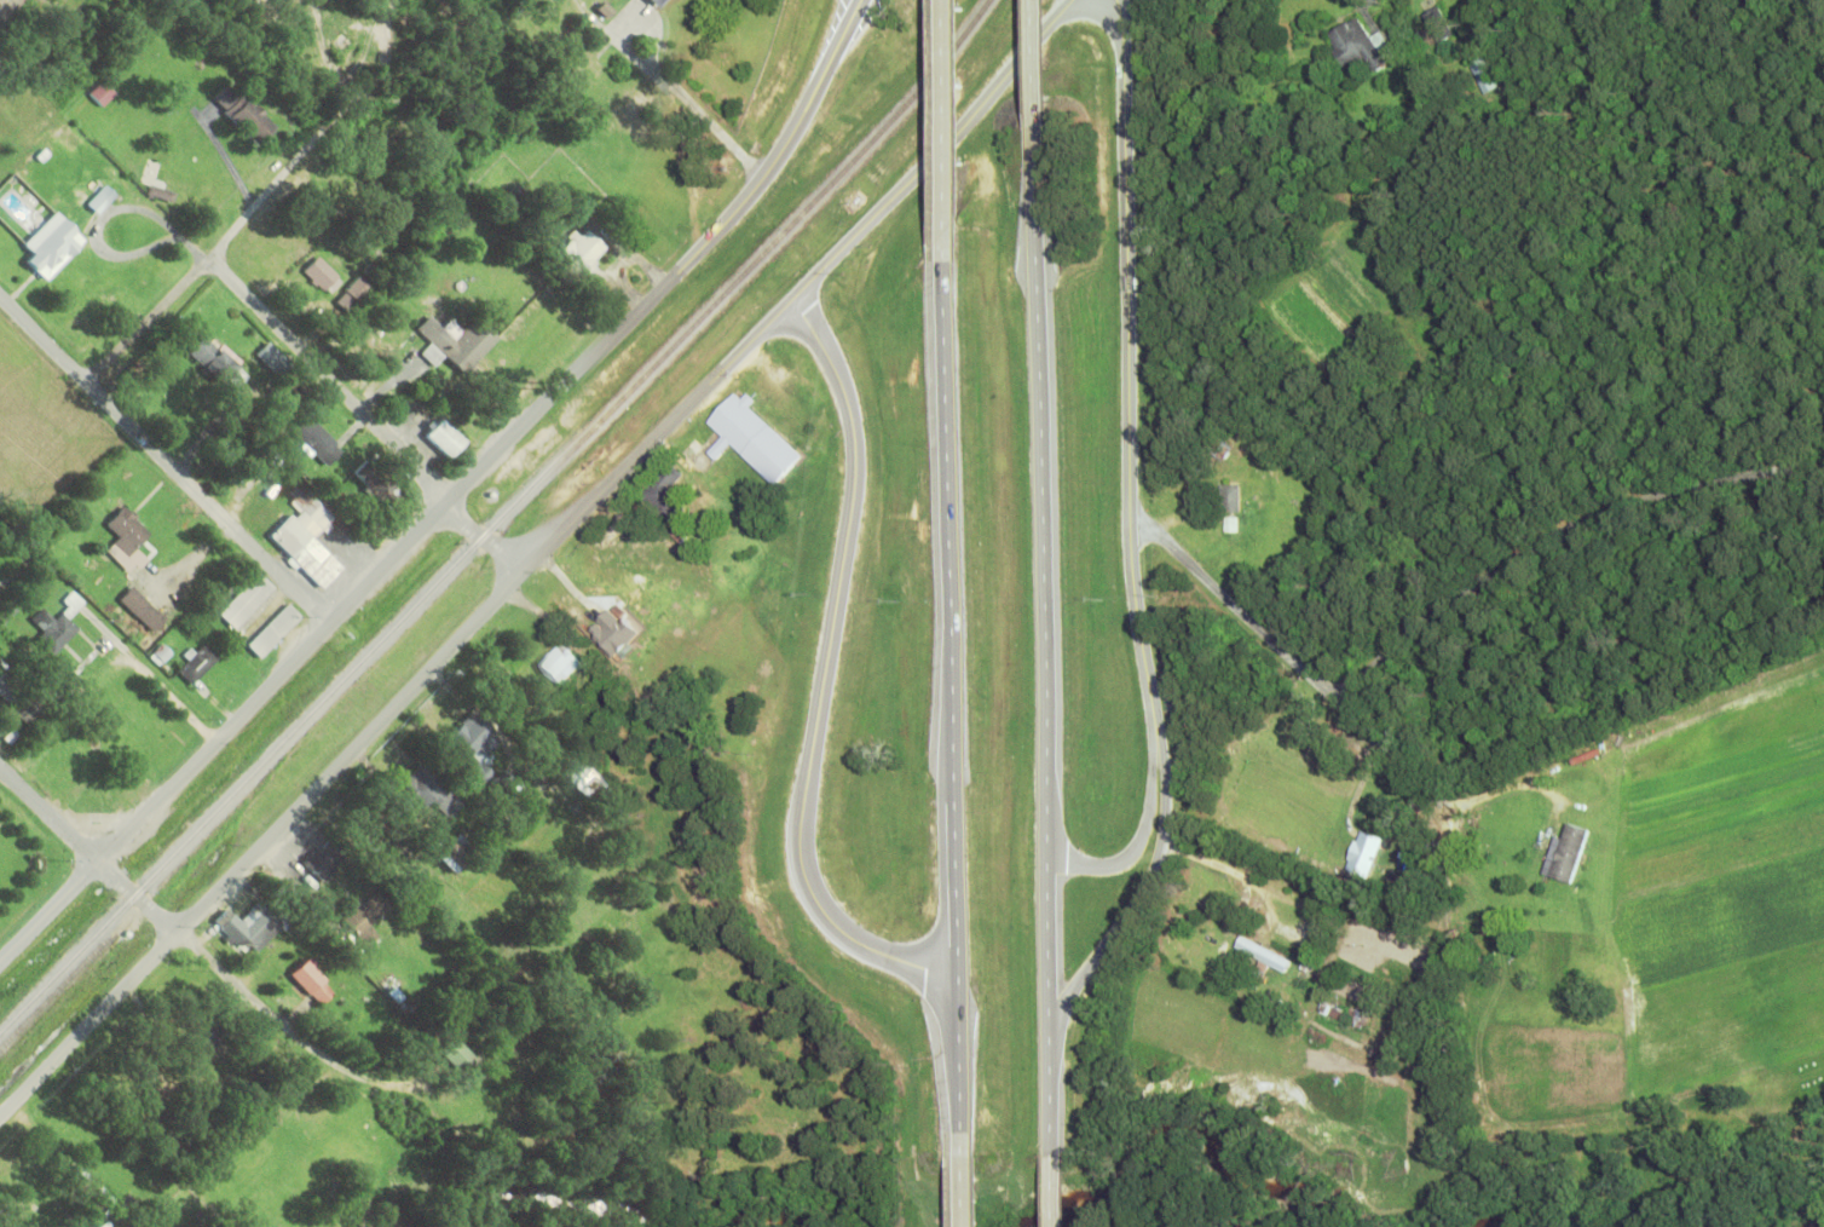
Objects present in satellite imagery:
building: (652, 0)
building: (659, 1)
road: (8, 8)
building: (1436, 23)
building: (1355, 44)
road: (659, 74)
building: (1480, 74)
road: (1044, 85)
building: (102, 91)
building: (246, 114)
road: (956, 125)
building: (70, 137)
building: (102, 195)
road: (264, 197)
building: (539, 226)
building: (52, 244)
building: (581, 250)
building: (322, 273)
road: (151, 318)
building: (391, 321)
road: (1601, 321)
building: (455, 341)
building: (218, 361)
road: (1124, 369)
road: (366, 414)
building: (444, 434)
building: (750, 437)
building: (317, 440)
road: (501, 447)
building: (1216, 450)
road: (166, 456)
building: (380, 486)
building: (664, 491)
building: (1226, 497)
railway: (497, 522)
building: (306, 536)
building: (126, 540)
road: (535, 558)
building: (244, 599)
road: (1444, 604)
building: (142, 607)
building: (51, 621)
building: (272, 628)
building: (611, 635)
building: (196, 662)
building: (559, 662)
road: (1047, 663)
road: (824, 672)
building: (62, 674)
building: (7, 692)
road: (958, 704)
building: (27, 713)
building: (472, 743)
building: (428, 789)
road: (1356, 789)
road: (1424, 790)
road: (50, 812)
road: (1552, 818)
building: (363, 826)
road: (1136, 837)
building: (457, 848)
building: (1572, 852)
building: (1364, 853)
building: (391, 856)
building: (322, 860)
crop: (1727, 892)
road: (1276, 894)
road: (138, 897)
road: (1136, 900)
road: (50, 908)
building: (360, 918)
building: (249, 924)
building: (1264, 954)
building: (310, 979)
building: (1328, 1015)
road: (284, 1026)
building: (202, 1038)
building: (458, 1059)
river: (1170, 1129)
river: (564, 1185)
road: (1052, 1192)
road: (963, 1193)
river: (769, 1220)
river: (1813, 1225)

